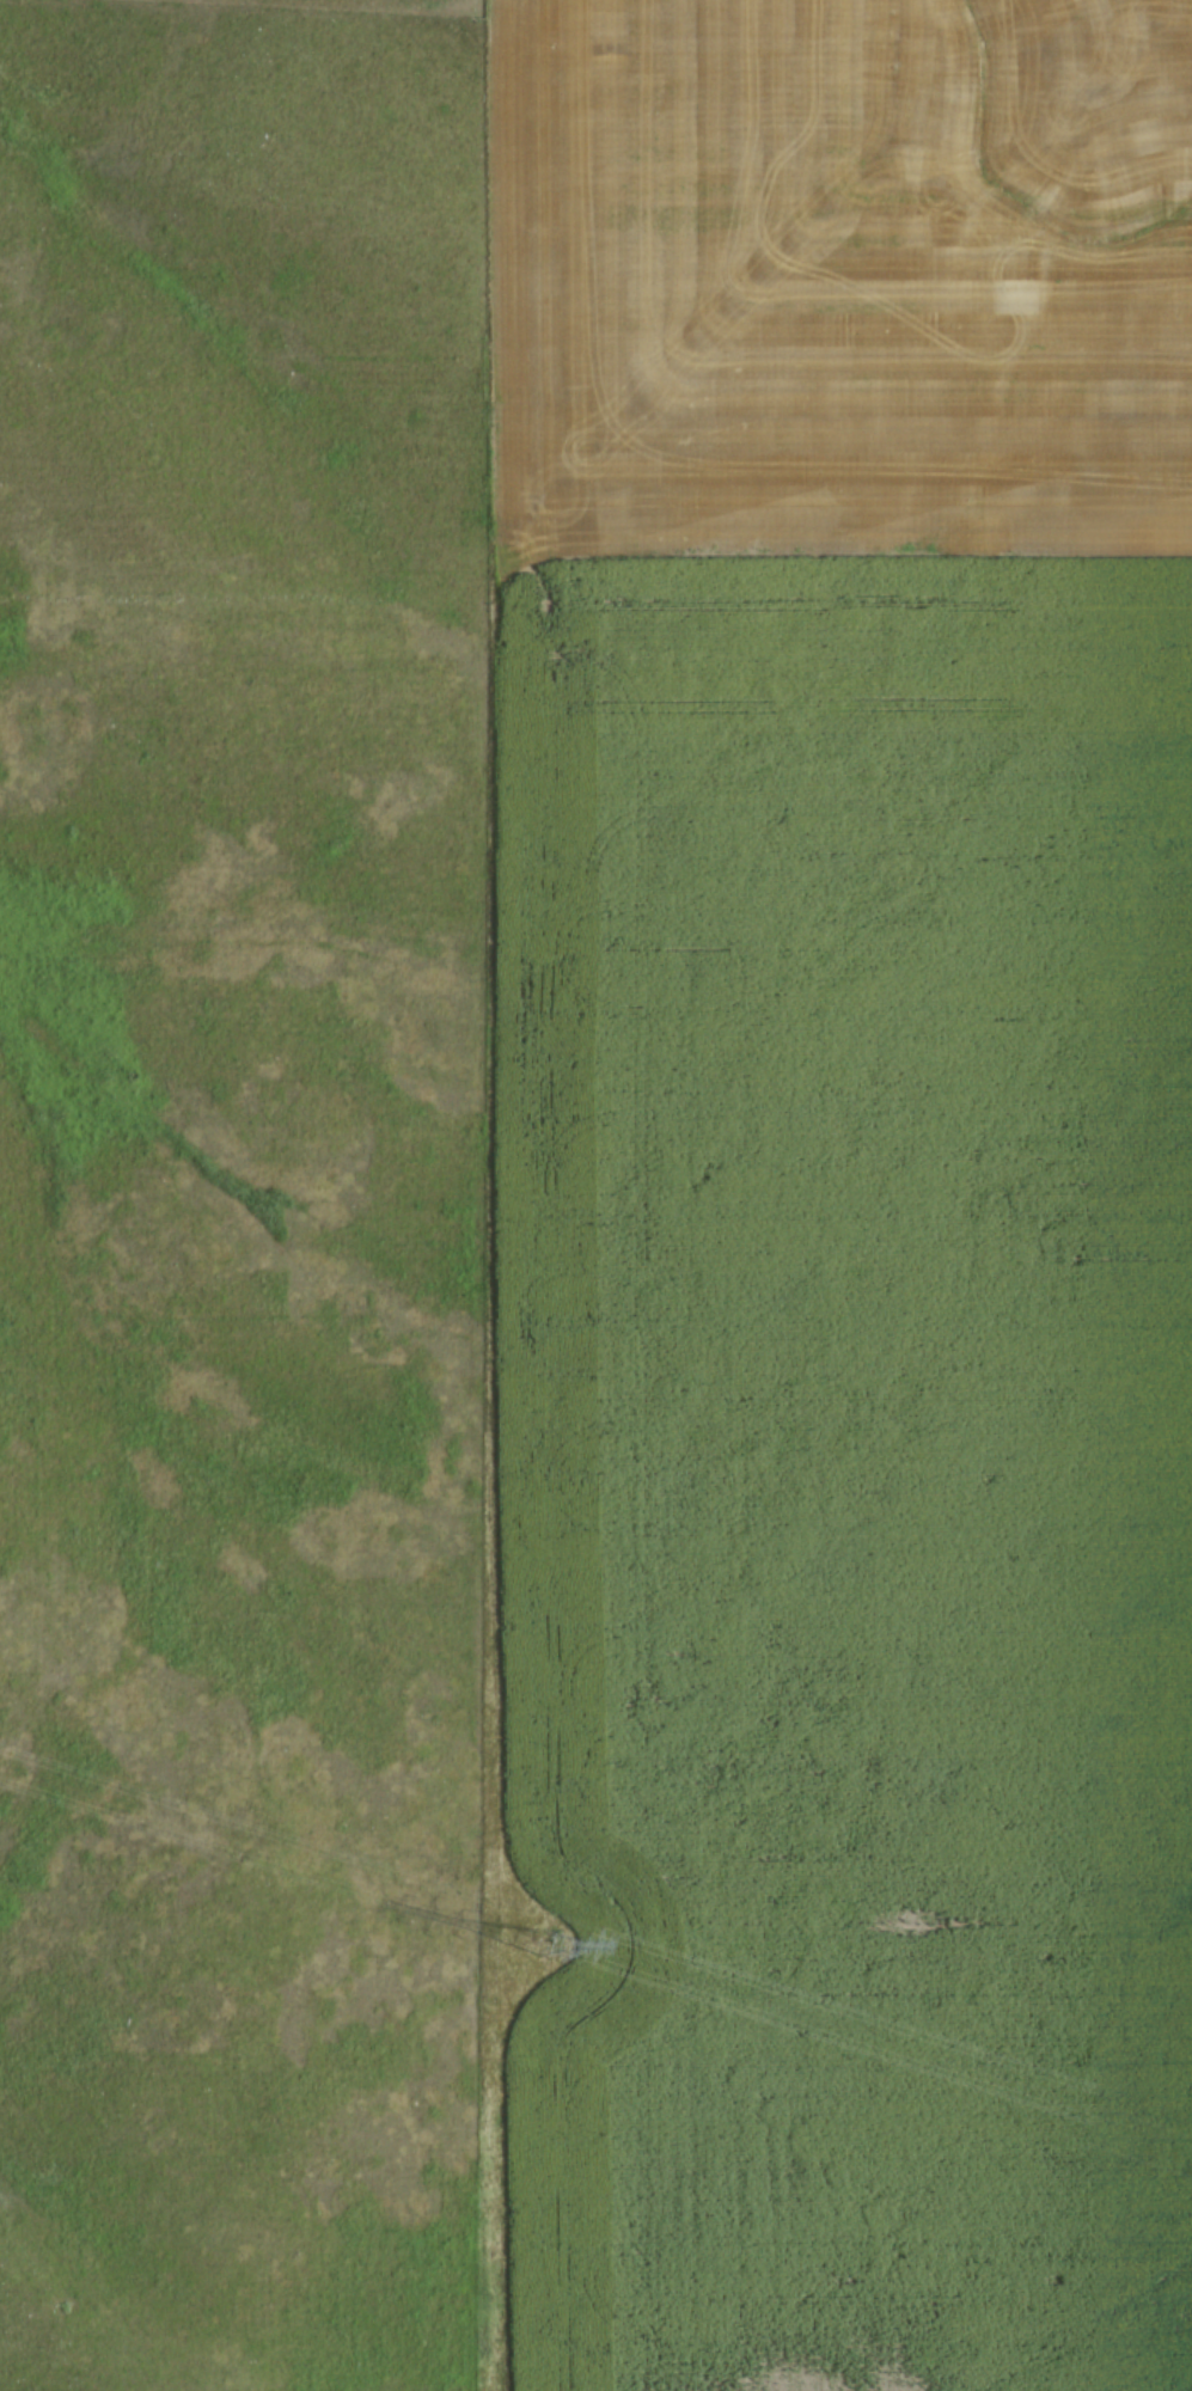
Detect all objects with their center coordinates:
power tower: (548, 1941)

